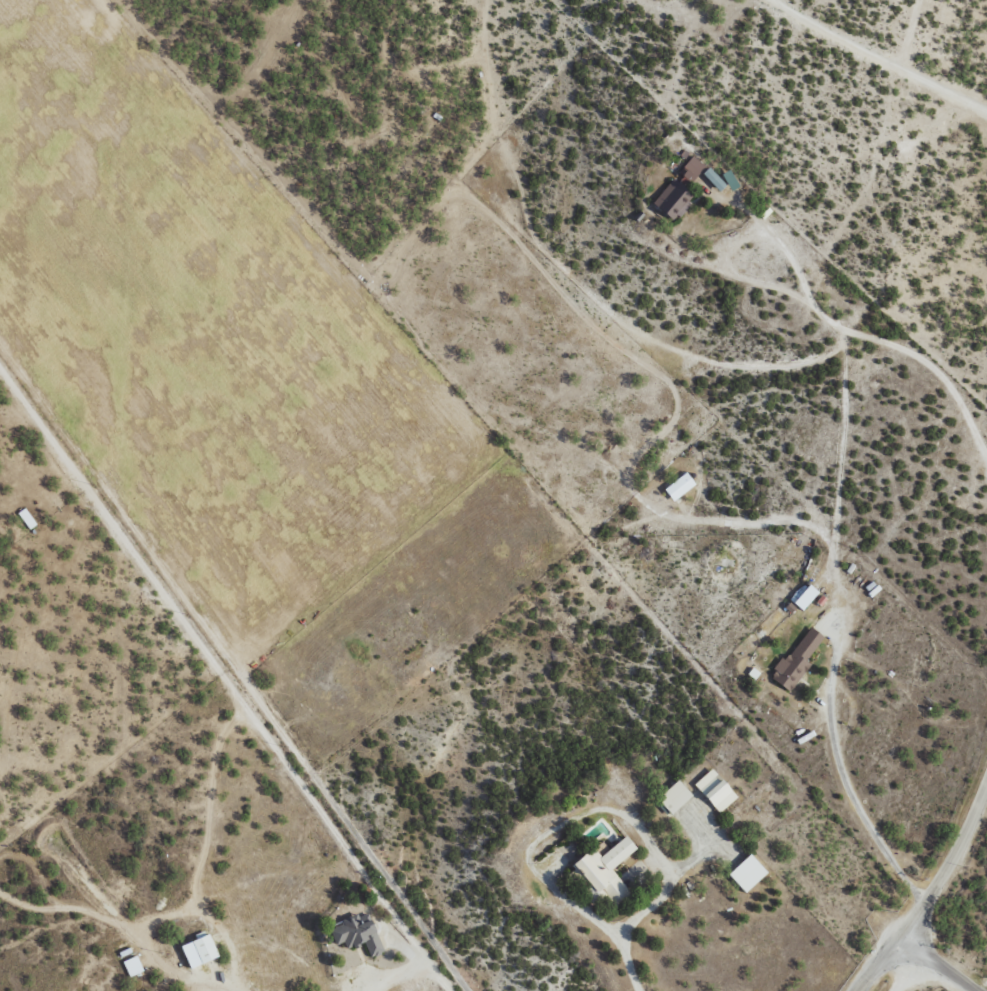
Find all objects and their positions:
building: (691, 170)
building: (714, 179)
building: (731, 180)
building: (674, 200)
building: (680, 486)
building: (27, 518)
building: (804, 597)
road: (213, 658)
building: (798, 659)
road: (112, 760)
building: (716, 789)
building: (675, 797)
road: (916, 803)
building: (606, 867)
building: (748, 873)
building: (358, 933)
building: (200, 950)
road: (928, 957)
building: (133, 966)

